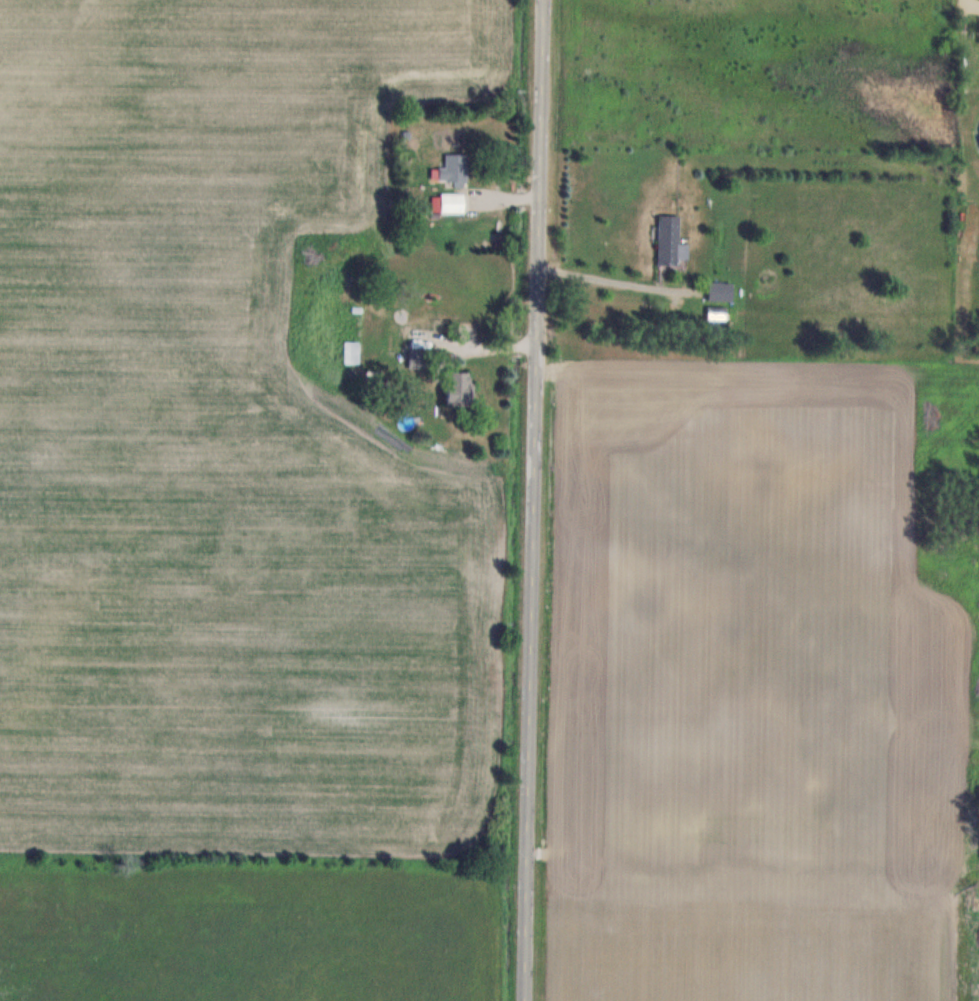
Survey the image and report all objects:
building: (455, 168)
building: (453, 202)
building: (669, 239)
road: (599, 279)
building: (721, 291)
building: (352, 352)
building: (461, 387)
road: (528, 500)
building: (835, 828)

